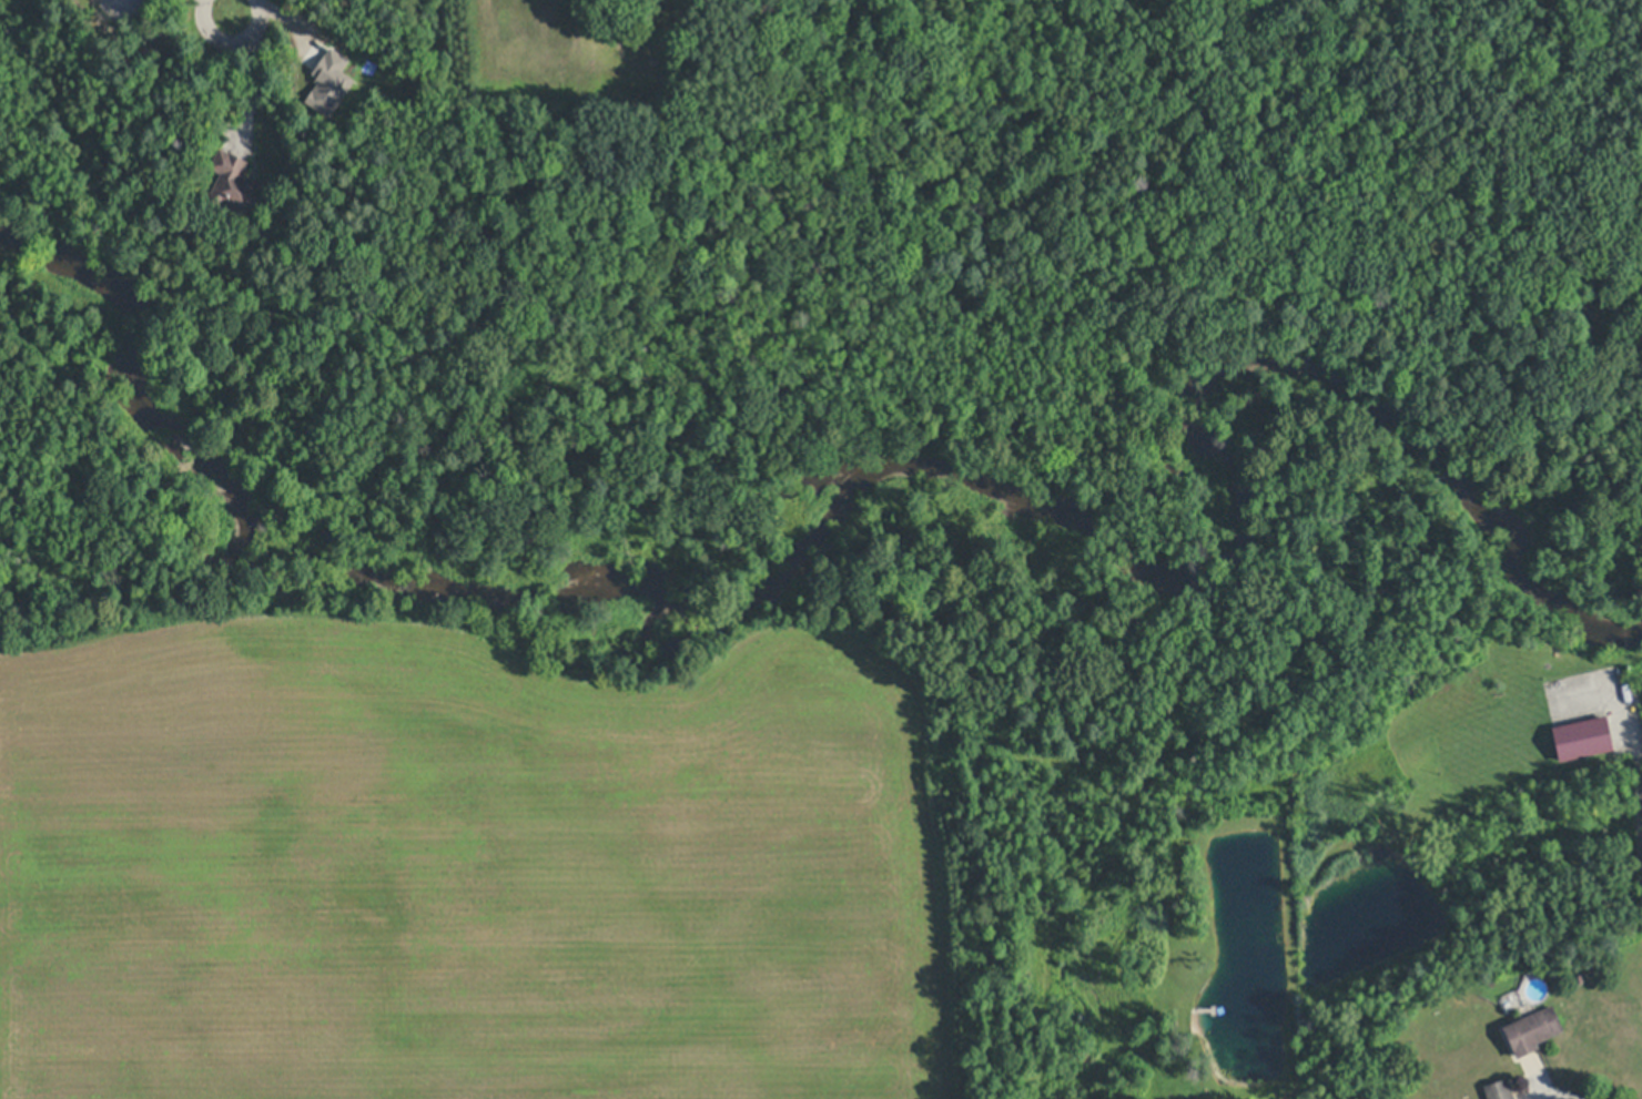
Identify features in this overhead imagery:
road: (224, 6)
building: (326, 82)
building: (239, 184)
building: (1612, 299)
building: (1588, 323)
river: (910, 519)
building: (1582, 739)
road: (1635, 754)
building: (1532, 1030)
building: (1500, 1089)

